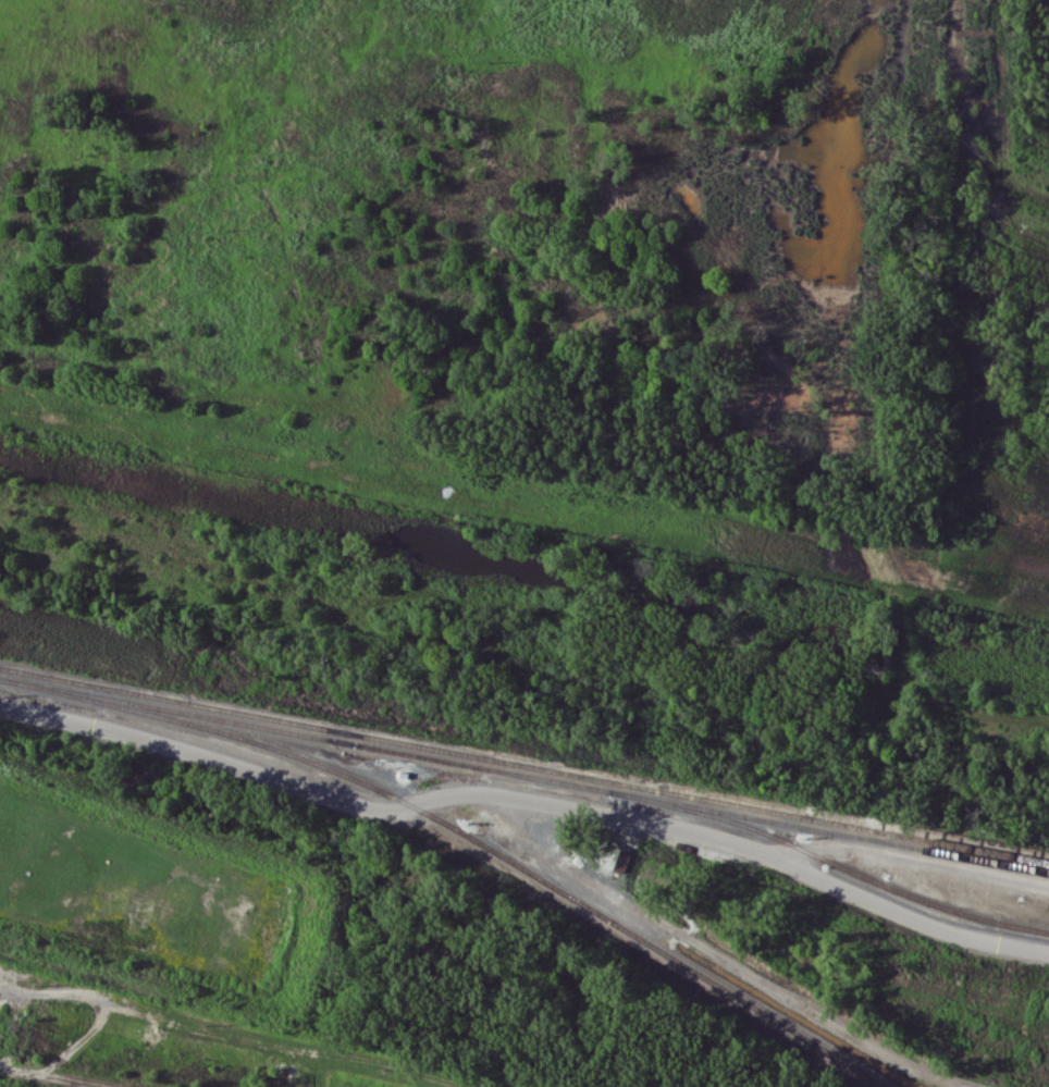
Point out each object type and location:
railway: (523, 765)
railway: (523, 775)
road: (521, 789)
railway: (466, 838)
railway: (828, 859)
building: (621, 861)
road: (39, 1078)

